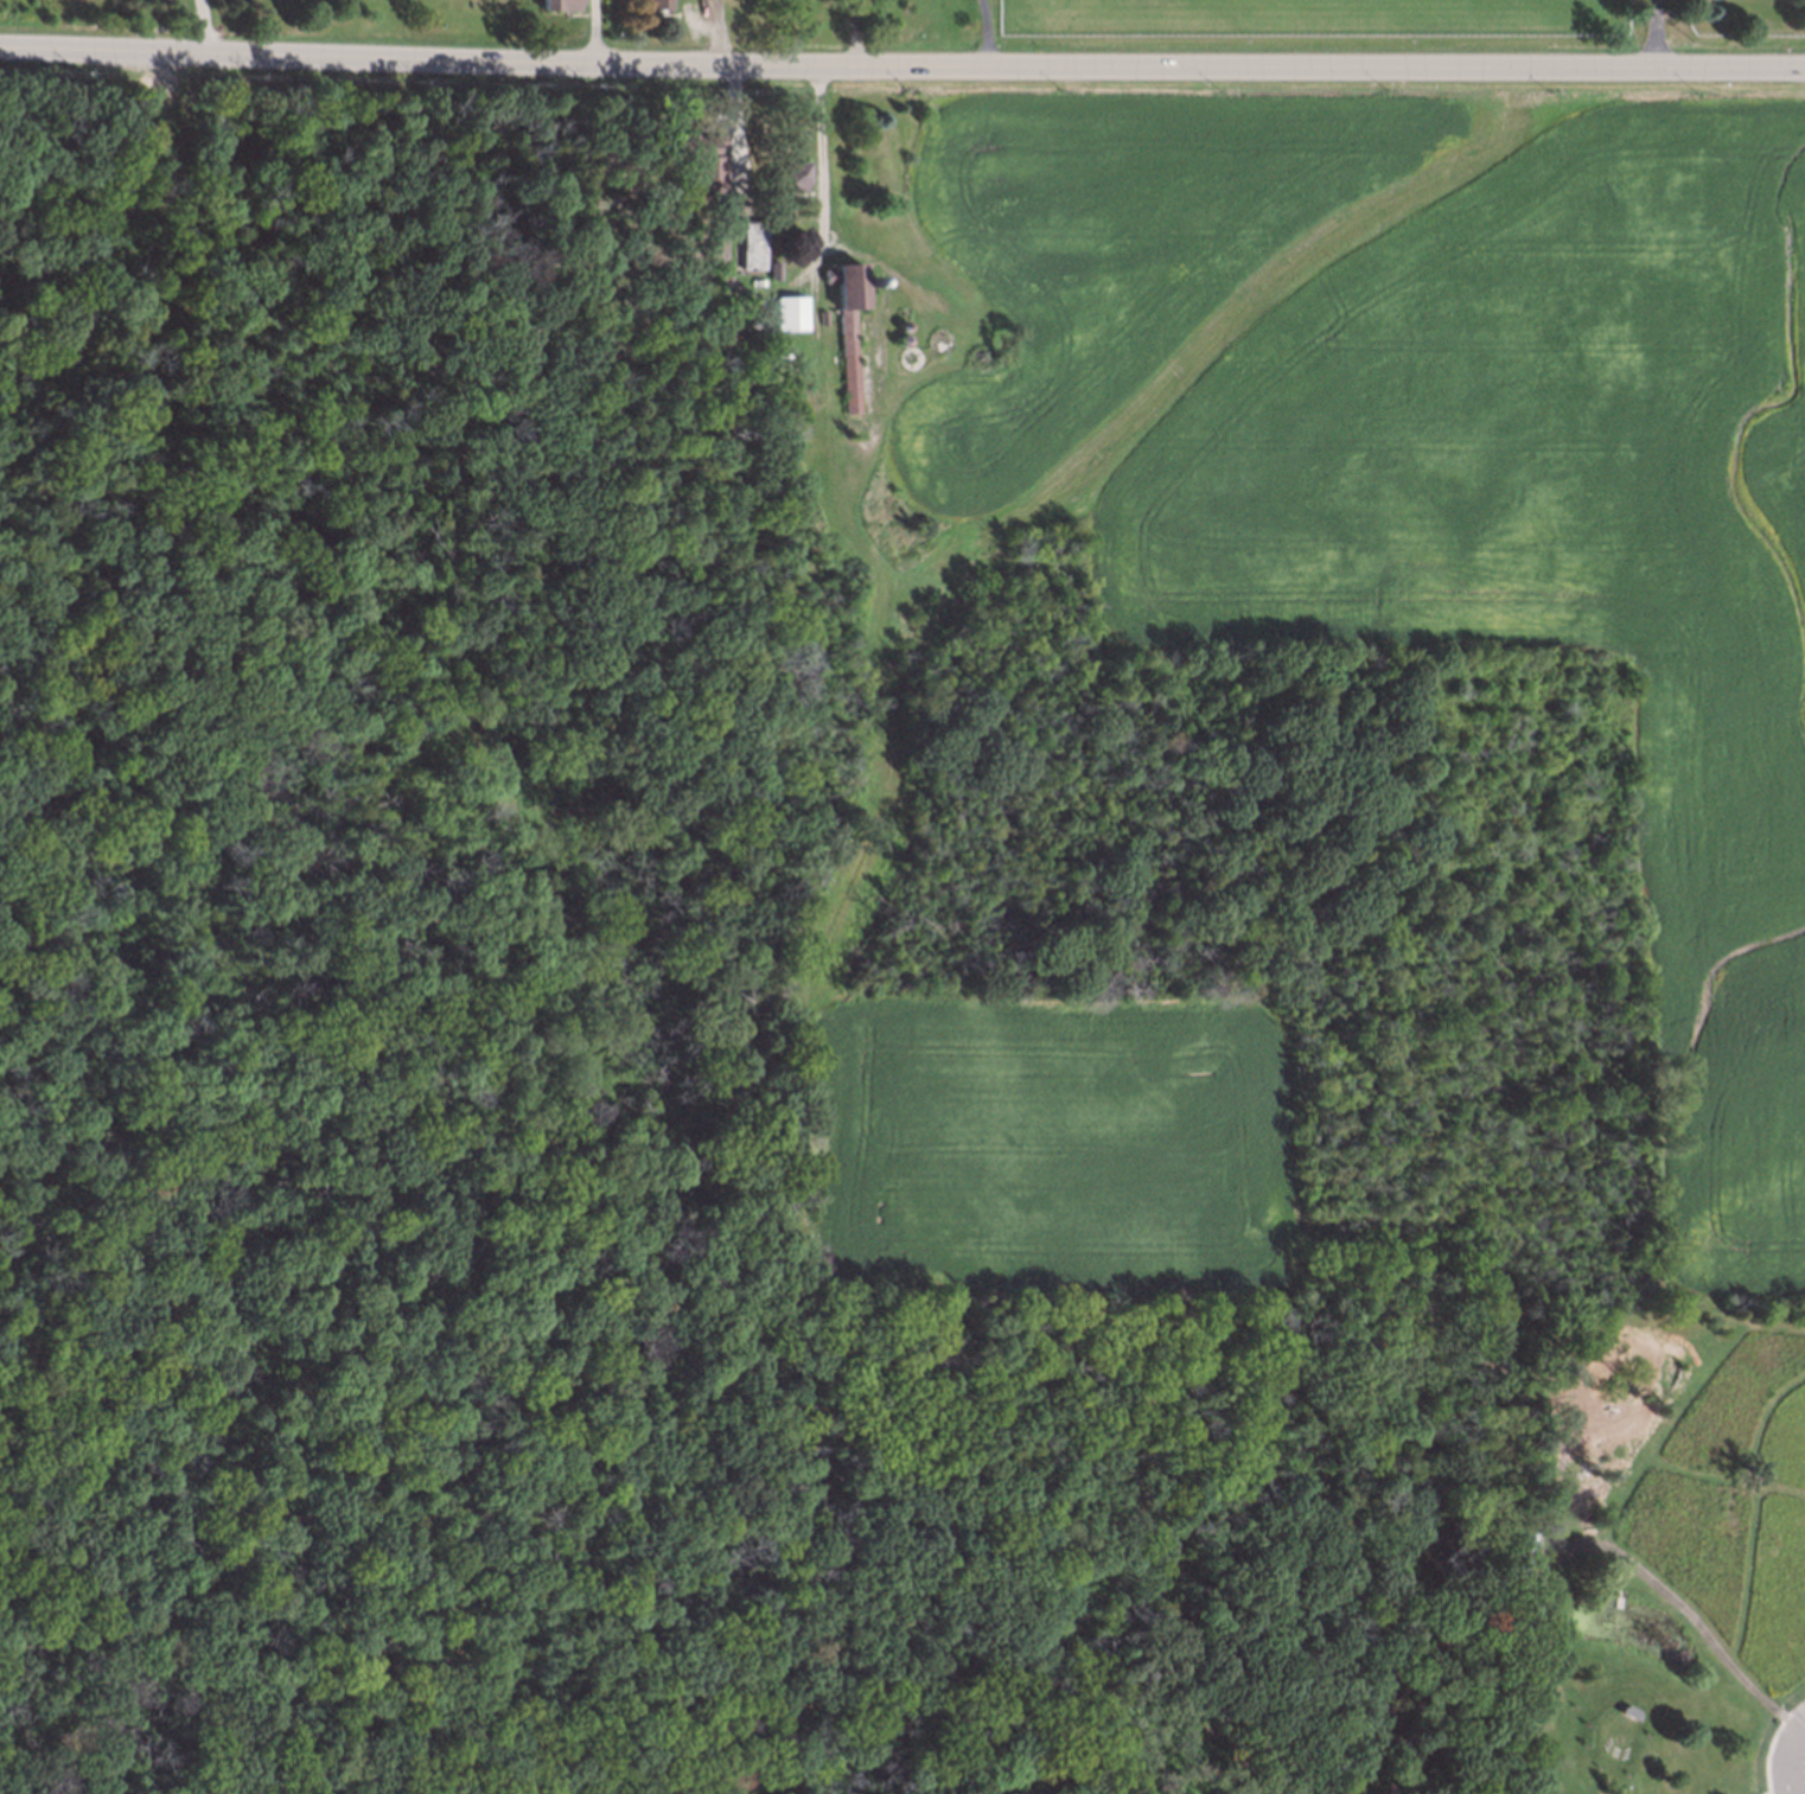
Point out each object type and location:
building: (554, 4)
building: (656, 4)
road: (204, 26)
road: (595, 32)
road: (719, 32)
road: (984, 32)
road: (1656, 33)
road: (901, 65)
building: (162, 116)
building: (690, 143)
road: (822, 154)
building: (789, 172)
building: (702, 173)
building: (774, 212)
road: (106, 229)
building: (747, 243)
building: (770, 264)
building: (866, 280)
building: (897, 309)
building: (818, 311)
building: (842, 323)
building: (900, 323)
building: (752, 330)
building: (784, 331)
building: (900, 336)
building: (937, 338)
building: (907, 356)
road: (288, 748)
road: (517, 786)
park: (619, 1131)
crop: (1045, 1148)
road: (325, 1212)
road: (147, 1307)
road: (1683, 1417)
road: (929, 1458)
road: (1728, 1477)
road: (1755, 1512)
road: (1692, 1616)
road: (659, 1633)
road: (1439, 1641)
building: (1628, 1713)
road: (1785, 1757)
parking lot: (1796, 1763)
road: (1779, 1792)

